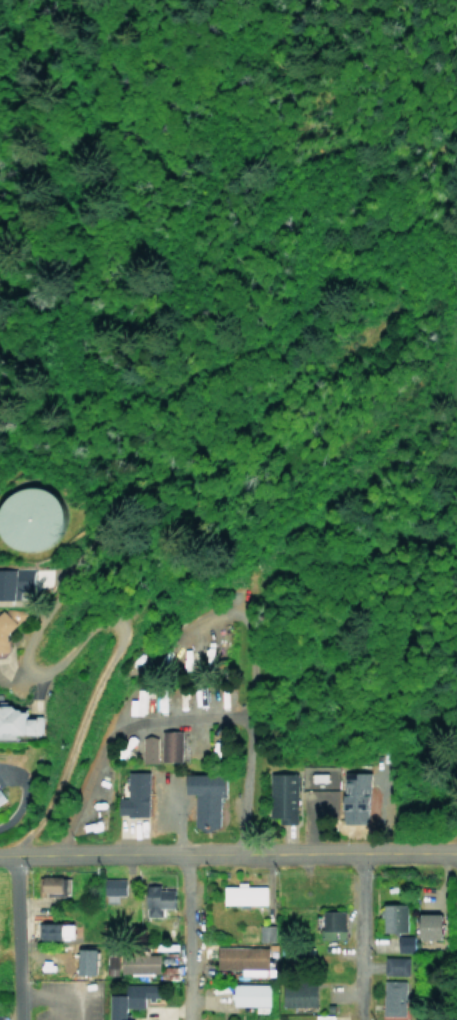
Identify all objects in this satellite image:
road: (438, 85)
building: (27, 515)
road: (84, 568)
building: (15, 582)
road: (208, 618)
building: (3, 640)
road: (112, 659)
building: (135, 703)
building: (19, 719)
road: (112, 732)
road: (245, 738)
building: (162, 746)
building: (283, 794)
building: (133, 795)
building: (2, 796)
building: (353, 796)
building: (205, 797)
road: (228, 855)
building: (54, 886)
building: (112, 886)
building: (245, 894)
building: (156, 899)
building: (394, 917)
building: (332, 922)
building: (432, 925)
building: (58, 930)
road: (358, 937)
road: (17, 938)
road: (185, 938)
building: (403, 942)
building: (240, 957)
building: (87, 960)
building: (138, 961)
building: (109, 964)
building: (392, 987)
road: (60, 992)
building: (250, 993)
building: (299, 995)
building: (126, 1002)
road: (51, 1006)
building: (1, 1017)
building: (323, 1017)

